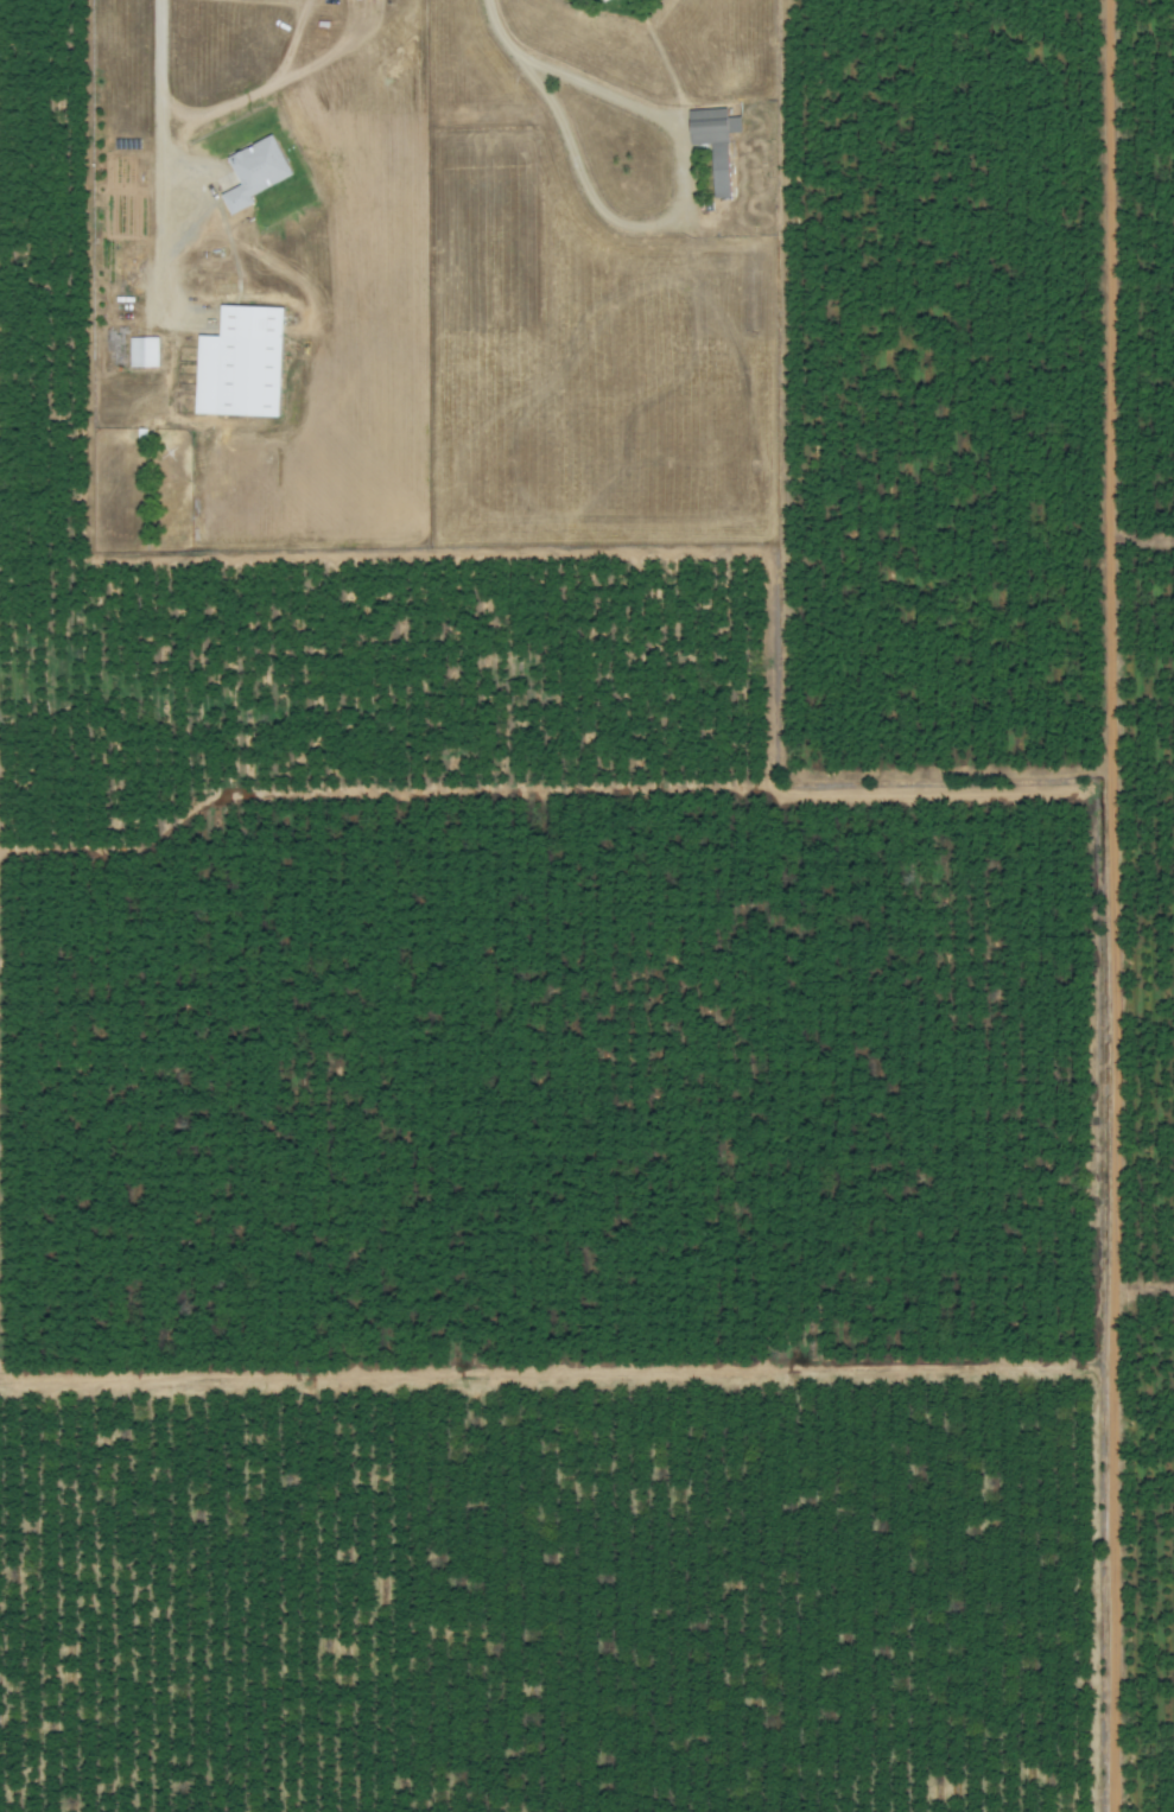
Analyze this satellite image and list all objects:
building: (597, 0)
road: (292, 1)
road: (486, 26)
road: (291, 40)
road: (275, 82)
road: (154, 84)
building: (711, 141)
building: (252, 172)
road: (665, 209)
building: (141, 351)
building: (236, 362)

